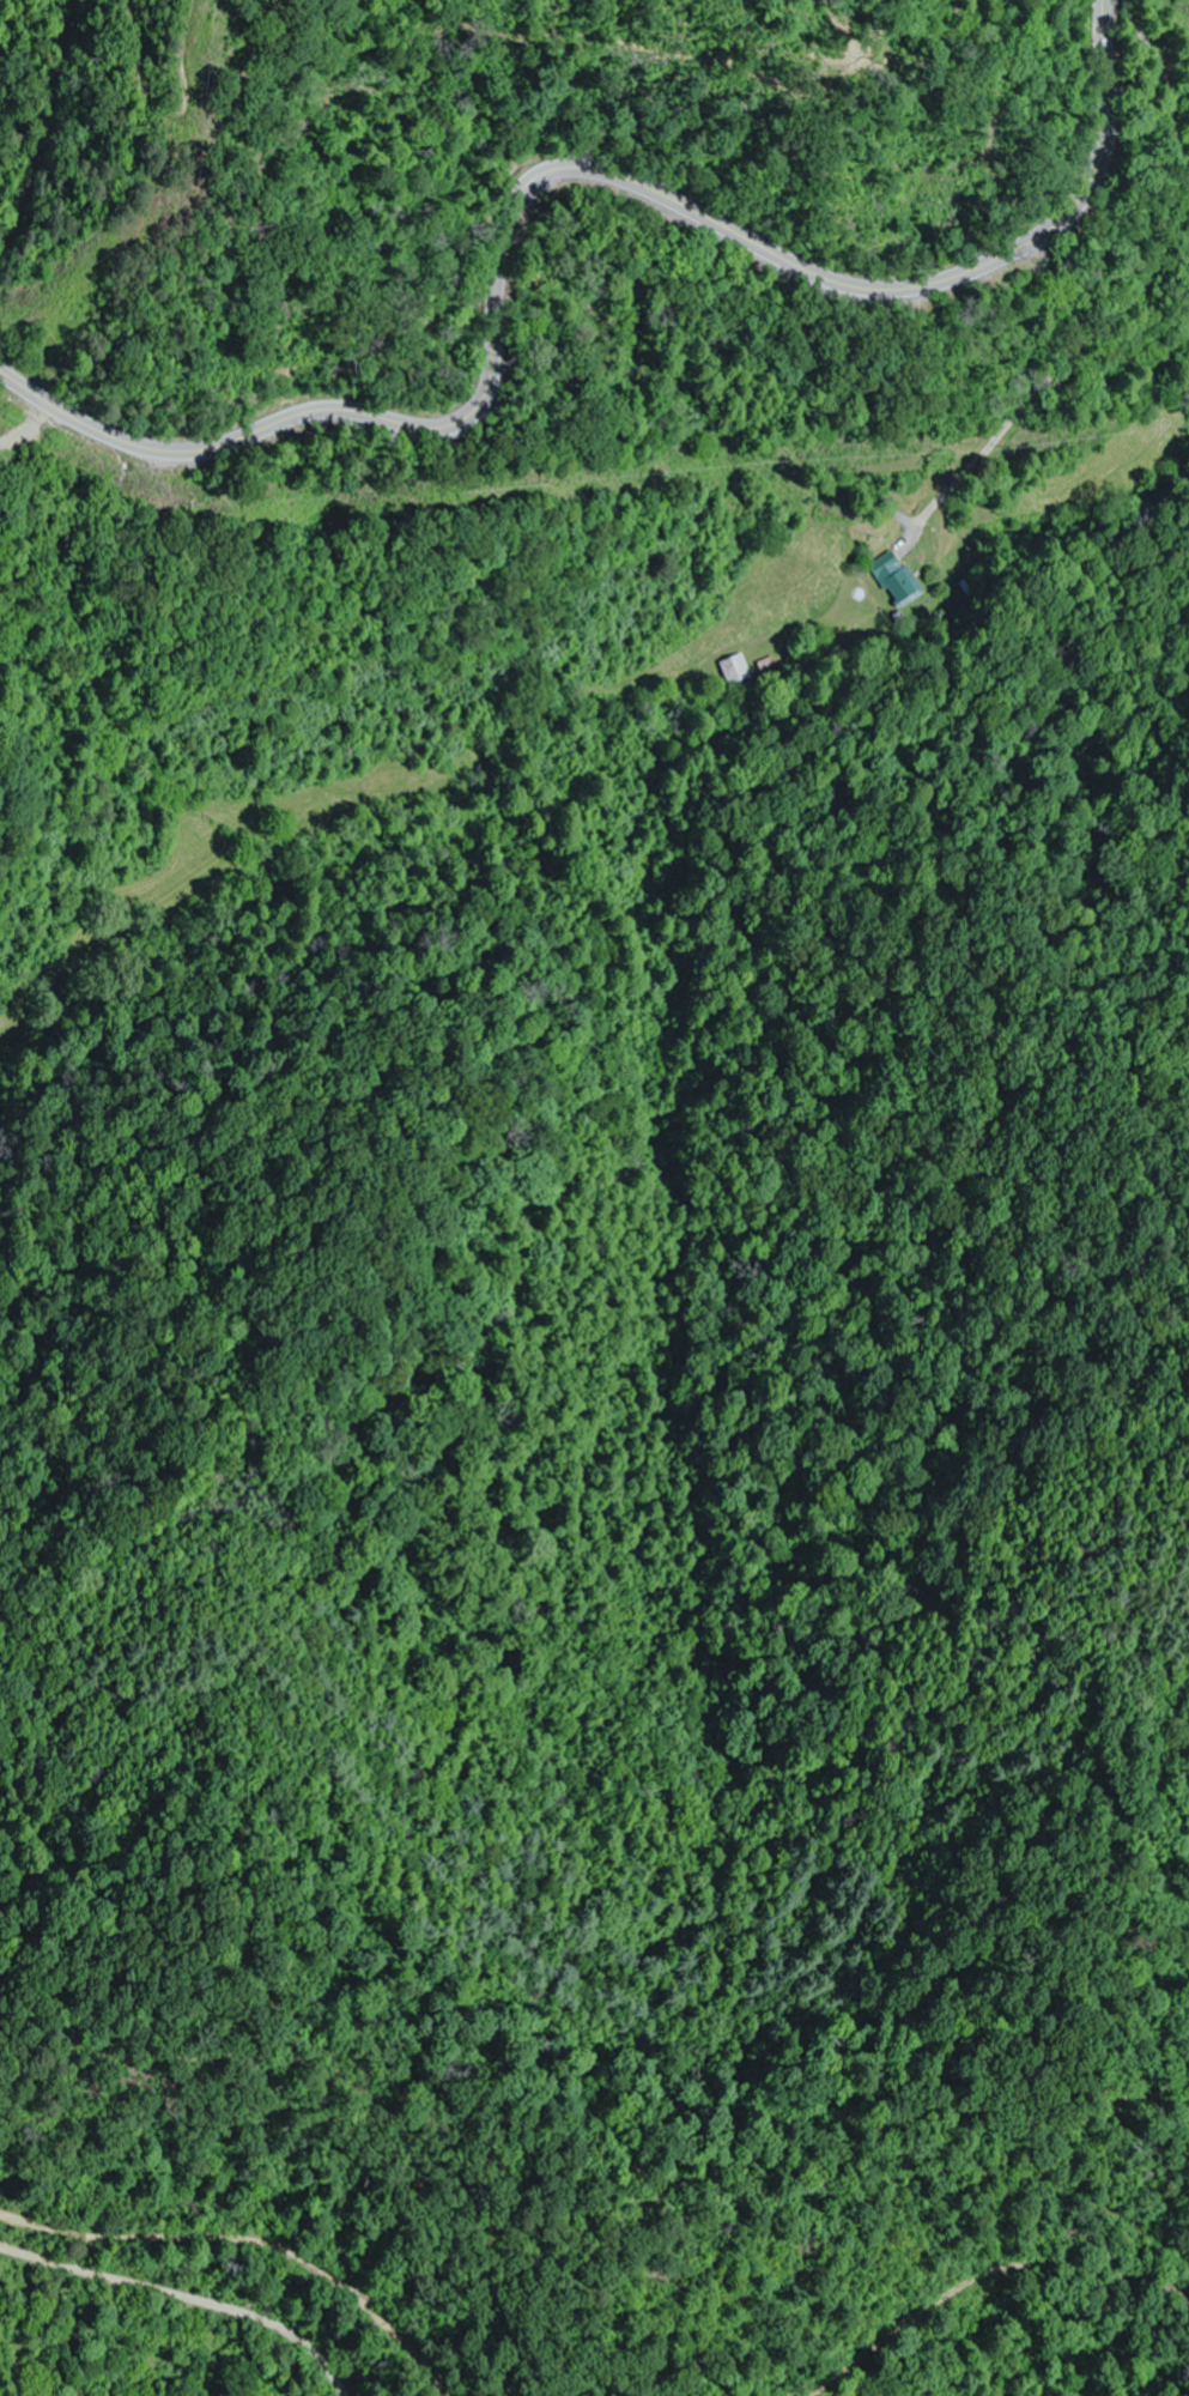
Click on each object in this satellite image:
road: (210, 132)
road: (560, 171)
road: (78, 196)
building: (898, 580)
building: (735, 670)

